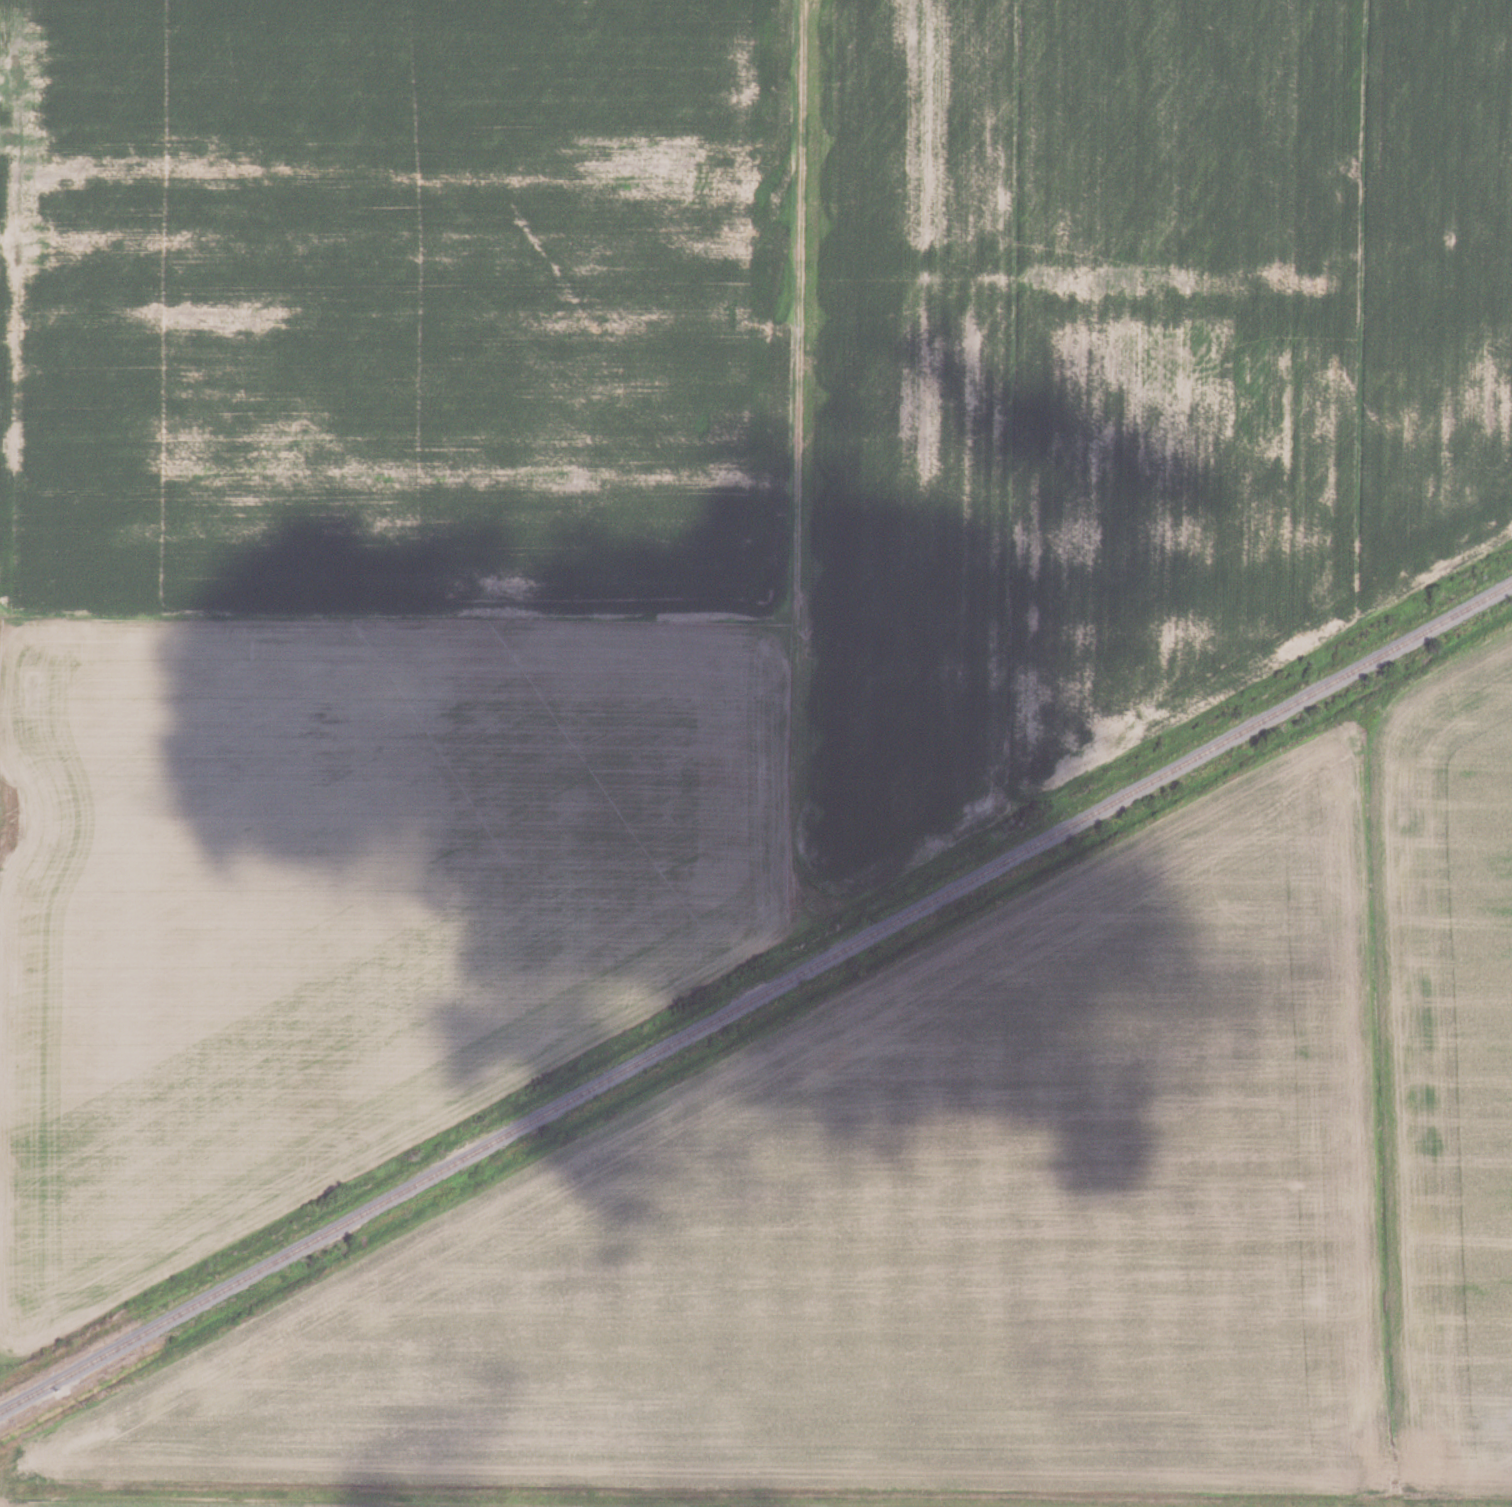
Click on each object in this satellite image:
railway: (755, 998)

